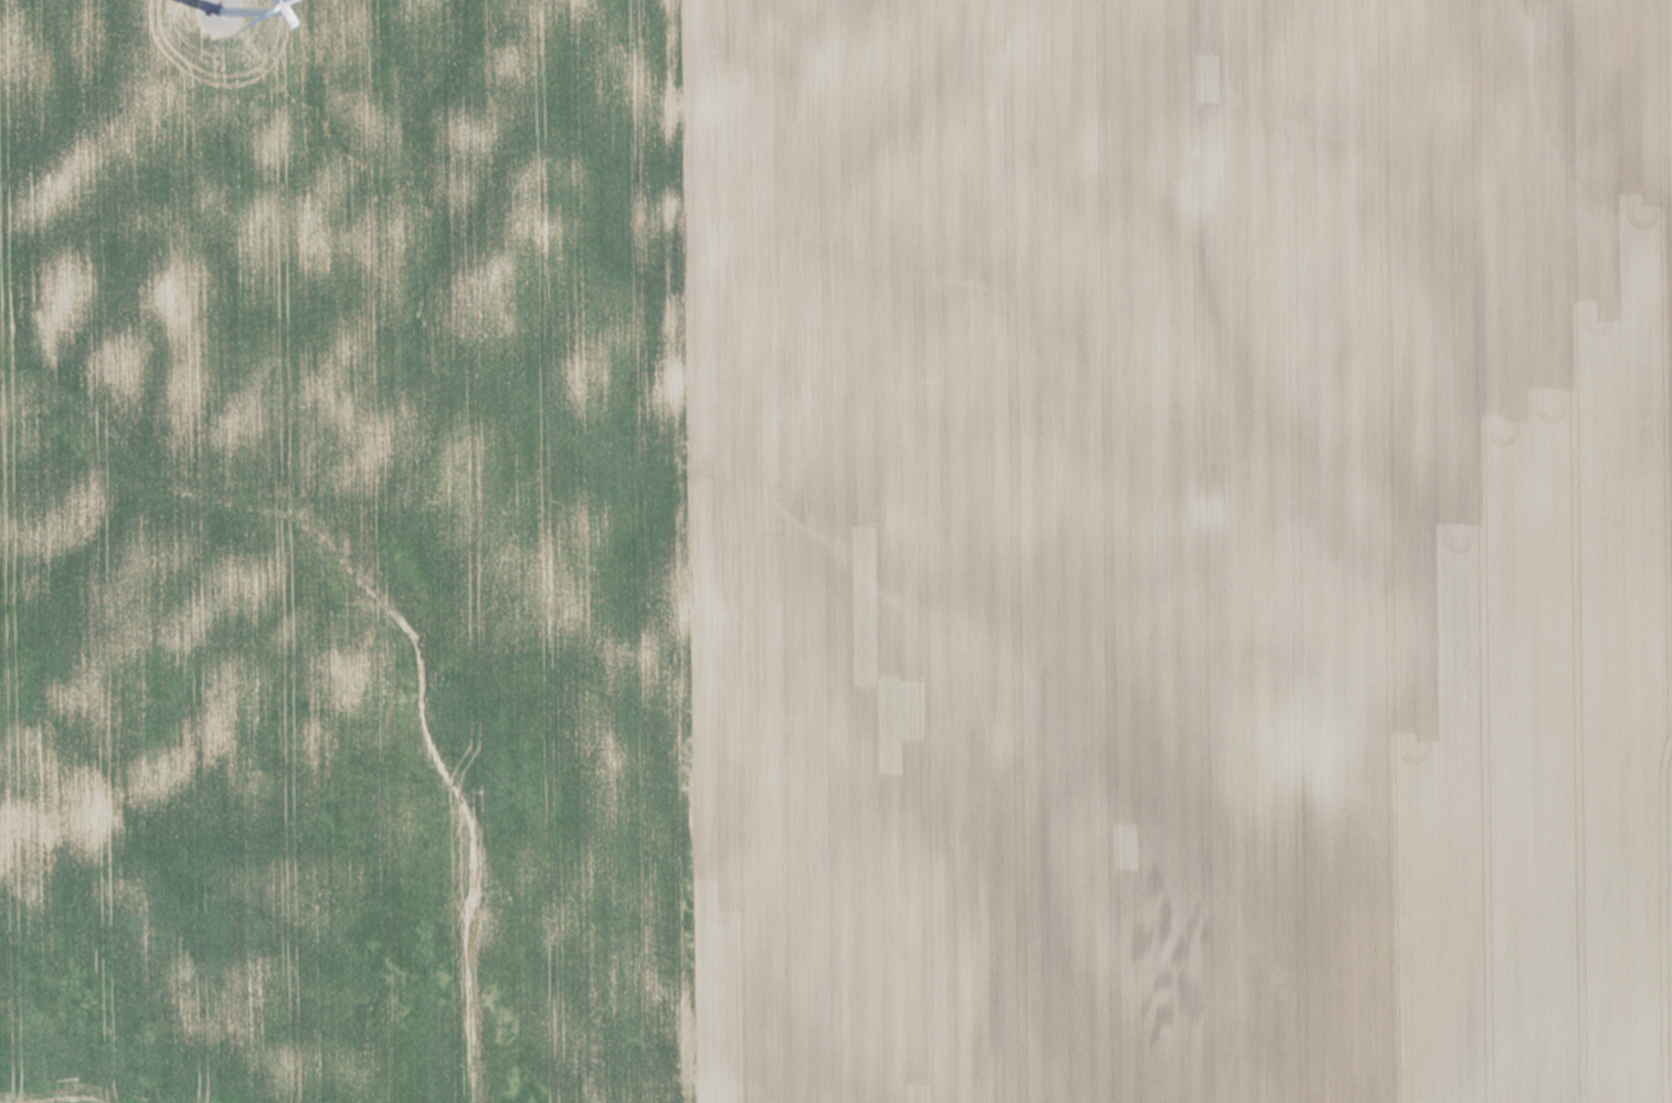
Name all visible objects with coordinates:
wind turbine: (227, 12)

